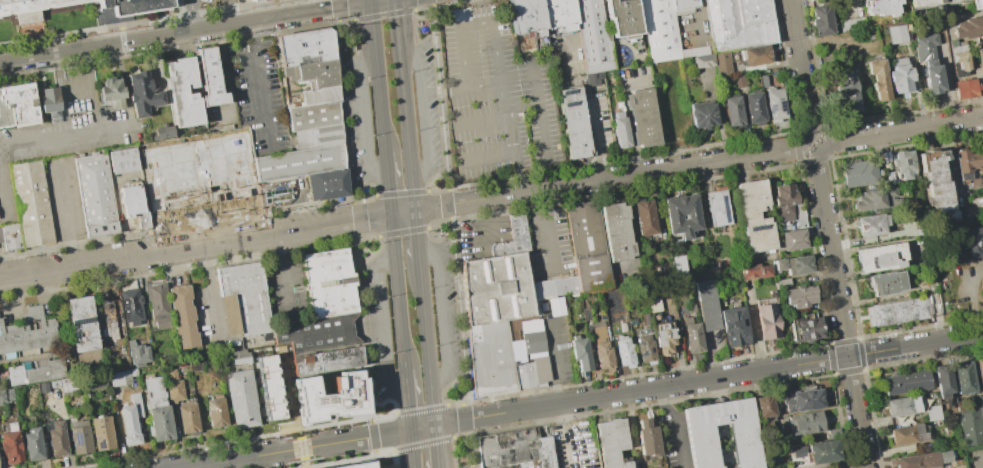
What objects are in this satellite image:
building: (249, 0)
road: (369, 0)
road: (373, 0)
building: (256, 1)
traffic signals: (370, 1)
road: (426, 2)
building: (928, 2)
road: (339, 3)
road: (355, 3)
building: (30, 4)
building: (137, 4)
building: (977, 4)
building: (683, 6)
building: (879, 7)
road: (419, 8)
road: (228, 12)
road: (341, 13)
road: (284, 14)
road: (383, 14)
building: (560, 14)
road: (192, 15)
building: (526, 16)
building: (623, 18)
building: (820, 19)
road: (347, 21)
road: (475, 23)
building: (851, 23)
building: (739, 24)
road: (212, 27)
building: (968, 28)
building: (659, 30)
building: (895, 33)
building: (868, 34)
building: (593, 37)
road: (257, 42)
road: (97, 45)
road: (241, 46)
building: (304, 46)
building: (981, 47)
building: (756, 56)
building: (958, 59)
building: (704, 61)
building: (930, 63)
building: (723, 64)
road: (801, 69)
building: (313, 73)
road: (377, 76)
building: (899, 76)
building: (210, 78)
building: (878, 78)
building: (593, 79)
building: (739, 81)
road: (483, 85)
road: (93, 88)
building: (965, 88)
road: (78, 90)
road: (443, 91)
building: (112, 92)
building: (182, 92)
building: (846, 92)
building: (142, 93)
building: (318, 95)
parking lot: (258, 97)
road: (440, 97)
parking lot: (497, 98)
road: (503, 100)
building: (50, 103)
building: (17, 104)
road: (261, 104)
building: (775, 104)
road: (404, 105)
road: (521, 105)
rooftop solar panel: (781, 107)
building: (755, 108)
rooftop solar panel: (769, 108)
road: (539, 110)
building: (733, 110)
road: (344, 112)
road: (423, 114)
building: (313, 115)
building: (703, 115)
road: (366, 118)
building: (643, 118)
road: (483, 122)
building: (574, 124)
parking lot: (66, 126)
building: (621, 131)
road: (900, 131)
building: (163, 132)
road: (67, 134)
road: (510, 135)
building: (317, 137)
road: (814, 145)
building: (982, 146)
road: (491, 155)
building: (124, 161)
building: (299, 162)
building: (966, 162)
building: (904, 164)
building: (857, 172)
road: (628, 175)
building: (197, 177)
building: (325, 184)
road: (387, 184)
building: (935, 186)
road: (435, 190)
parking lot: (284, 192)
road: (400, 193)
building: (96, 195)
road: (366, 197)
parking lot: (64, 198)
road: (446, 198)
building: (874, 198)
road: (2, 199)
building: (131, 199)
building: (783, 200)
building: (31, 203)
road: (431, 208)
building: (716, 208)
building: (975, 208)
rooftop solar panel: (724, 210)
road: (447, 211)
road: (359, 212)
building: (680, 215)
building: (753, 215)
road: (387, 216)
road: (64, 217)
building: (643, 218)
building: (142, 219)
building: (871, 224)
road: (437, 225)
road: (361, 228)
rooftop solar panel: (757, 228)
road: (546, 230)
building: (616, 230)
road: (401, 231)
building: (11, 236)
road: (370, 237)
building: (791, 240)
road: (417, 242)
building: (972, 242)
building: (516, 243)
building: (587, 247)
road: (180, 250)
building: (879, 257)
building: (678, 264)
building: (793, 265)
building: (753, 271)
road: (282, 274)
building: (886, 282)
building: (328, 283)
building: (556, 287)
parking lot: (285, 290)
road: (397, 293)
road: (212, 296)
building: (504, 296)
building: (799, 297)
building: (244, 299)
building: (157, 304)
building: (706, 304)
building: (130, 305)
building: (555, 306)
road: (839, 309)
building: (104, 310)
road: (460, 311)
building: (896, 311)
road: (444, 315)
building: (181, 316)
building: (767, 321)
building: (81, 323)
rooftop solar panel: (81, 323)
building: (732, 326)
rooftop solar panel: (805, 326)
road: (386, 327)
road: (364, 329)
building: (808, 329)
building: (28, 331)
rooftop solar panel: (815, 332)
building: (318, 334)
building: (691, 335)
rooftop solar panel: (801, 335)
rooftop solar panel: (808, 336)
building: (664, 338)
building: (536, 345)
rooftop solar panel: (638, 345)
building: (600, 348)
building: (643, 348)
road: (427, 350)
building: (622, 350)
building: (579, 352)
rooftop solar panel: (647, 352)
building: (137, 353)
rooftop solar panel: (642, 355)
building: (240, 356)
building: (327, 361)
road: (554, 361)
building: (495, 365)
building: (979, 369)
building: (35, 371)
road: (723, 376)
building: (119, 377)
building: (536, 377)
building: (962, 377)
building: (942, 381)
building: (906, 382)
building: (53, 383)
building: (67, 384)
building: (42, 387)
building: (173, 387)
building: (269, 387)
building: (329, 394)
building: (5, 395)
building: (240, 398)
building: (803, 399)
road: (407, 400)
road: (454, 403)
building: (765, 406)
building: (902, 406)
road: (420, 409)
building: (215, 412)
building: (932, 412)
road: (465, 413)
road: (385, 416)
building: (187, 418)
building: (160, 421)
building: (971, 421)
building: (805, 423)
road: (677, 424)
building: (128, 425)
road: (465, 425)
rooftop solar panel: (698, 426)
road: (419, 428)
building: (101, 433)
building: (907, 434)
rooftop solar panel: (76, 435)
road: (459, 435)
building: (79, 436)
road: (374, 436)
building: (647, 436)
building: (56, 438)
road: (346, 440)
rooftop solar panel: (698, 440)
rooftop solar panel: (99, 442)
building: (611, 442)
road: (422, 443)
building: (32, 444)
building: (10, 446)
road: (436, 447)
building: (701, 447)
road: (301, 448)
road: (412, 448)
road: (474, 448)
building: (515, 448)
road: (385, 452)
building: (825, 452)
parking lot: (974, 457)
road: (374, 458)
rooftop solar panel: (702, 458)
road: (230, 459)
building: (924, 460)
building: (354, 465)
road: (978, 466)
building: (836, 467)

